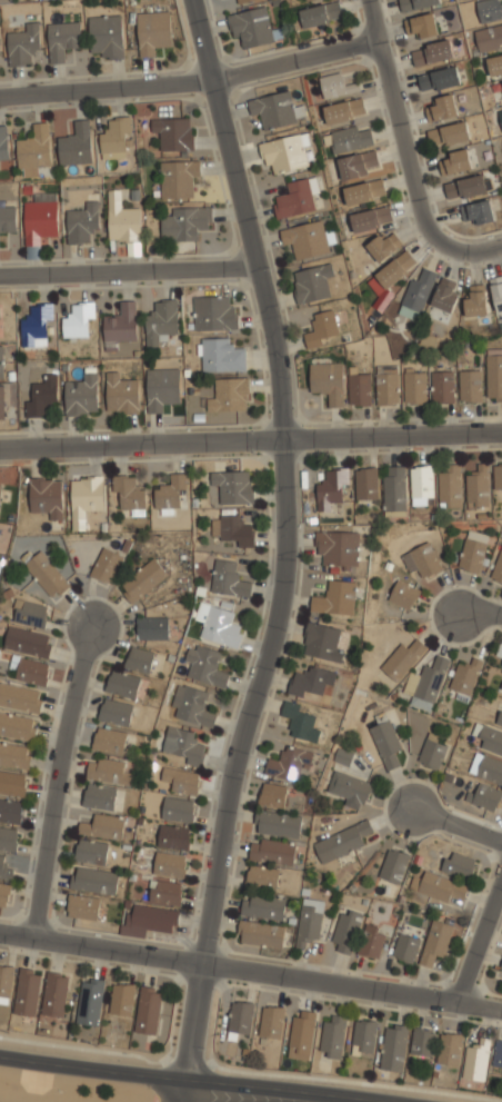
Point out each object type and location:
building: (308, 0)
building: (244, 1)
building: (416, 3)
building: (489, 9)
building: (321, 14)
building: (422, 24)
building: (251, 27)
building: (152, 31)
building: (107, 33)
building: (489, 36)
building: (62, 38)
building: (22, 43)
building: (432, 51)
building: (494, 64)
building: (439, 78)
road: (192, 81)
building: (337, 85)
building: (442, 107)
building: (277, 108)
building: (344, 110)
building: (501, 116)
road: (401, 125)
building: (449, 132)
building: (173, 133)
building: (351, 137)
building: (116, 138)
building: (3, 143)
building: (76, 145)
road: (244, 149)
building: (33, 150)
building: (285, 151)
building: (455, 160)
building: (357, 163)
building: (177, 179)
building: (465, 186)
building: (364, 190)
building: (294, 199)
building: (479, 210)
building: (371, 217)
building: (40, 218)
building: (8, 219)
building: (121, 220)
building: (81, 222)
building: (184, 224)
building: (305, 239)
building: (384, 246)
road: (474, 250)
road: (125, 266)
building: (396, 268)
building: (312, 282)
building: (496, 291)
building: (418, 292)
building: (445, 295)
building: (476, 300)
building: (213, 315)
building: (79, 319)
building: (36, 322)
building: (120, 322)
building: (160, 322)
building: (322, 330)
building: (221, 357)
building: (1, 361)
building: (494, 377)
building: (328, 380)
building: (470, 387)
building: (161, 388)
building: (414, 388)
building: (442, 388)
building: (359, 389)
building: (386, 389)
building: (82, 394)
building: (121, 394)
building: (42, 395)
building: (229, 396)
building: (1, 401)
road: (491, 431)
road: (240, 443)
building: (498, 476)
building: (233, 485)
building: (367, 485)
building: (420, 486)
building: (0, 487)
building: (450, 487)
building: (478, 487)
building: (394, 488)
building: (170, 489)
building: (331, 489)
building: (129, 492)
building: (46, 495)
building: (86, 495)
building: (233, 528)
building: (338, 548)
road: (289, 550)
building: (473, 550)
building: (422, 559)
building: (107, 564)
building: (498, 568)
building: (47, 574)
building: (229, 578)
building: (142, 579)
building: (403, 594)
building: (335, 598)
building: (30, 613)
road: (479, 614)
building: (152, 626)
building: (220, 627)
building: (28, 641)
building: (323, 642)
building: (500, 651)
building: (139, 658)
building: (402, 659)
building: (204, 666)
building: (501, 666)
building: (30, 671)
building: (464, 677)
building: (312, 681)
building: (122, 682)
building: (429, 684)
building: (20, 696)
building: (191, 706)
building: (116, 711)
building: (500, 717)
building: (301, 721)
building: (17, 726)
building: (490, 737)
building: (109, 738)
building: (385, 739)
building: (182, 745)
building: (432, 753)
building: (14, 754)
building: (342, 755)
building: (289, 764)
building: (486, 767)
building: (107, 768)
road: (56, 780)
building: (182, 780)
building: (12, 782)
building: (348, 788)
building: (99, 795)
building: (272, 795)
building: (484, 796)
building: (178, 808)
building: (10, 810)
building: (277, 824)
road: (456, 824)
building: (103, 825)
building: (173, 836)
building: (8, 837)
building: (342, 841)
building: (91, 851)
building: (272, 852)
building: (170, 864)
building: (393, 865)
building: (459, 865)
building: (3, 868)
building: (262, 876)
building: (93, 880)
building: (440, 887)
building: (4, 892)
building: (164, 892)
building: (82, 906)
building: (262, 906)
building: (153, 917)
building: (309, 922)
building: (347, 931)
building: (260, 933)
building: (372, 941)
building: (436, 942)
road: (480, 942)
building: (405, 949)
road: (485, 963)
building: (501, 966)
road: (250, 971)
building: (6, 983)
building: (27, 991)
building: (54, 993)
building: (121, 1000)
building: (90, 1003)
building: (148, 1010)
building: (239, 1020)
building: (272, 1021)
building: (302, 1034)
building: (332, 1036)
building: (363, 1036)
building: (422, 1043)
building: (393, 1049)
building: (449, 1049)
building: (498, 1054)
building: (476, 1061)
road: (194, 1079)
road: (179, 1090)
road: (323, 1100)

